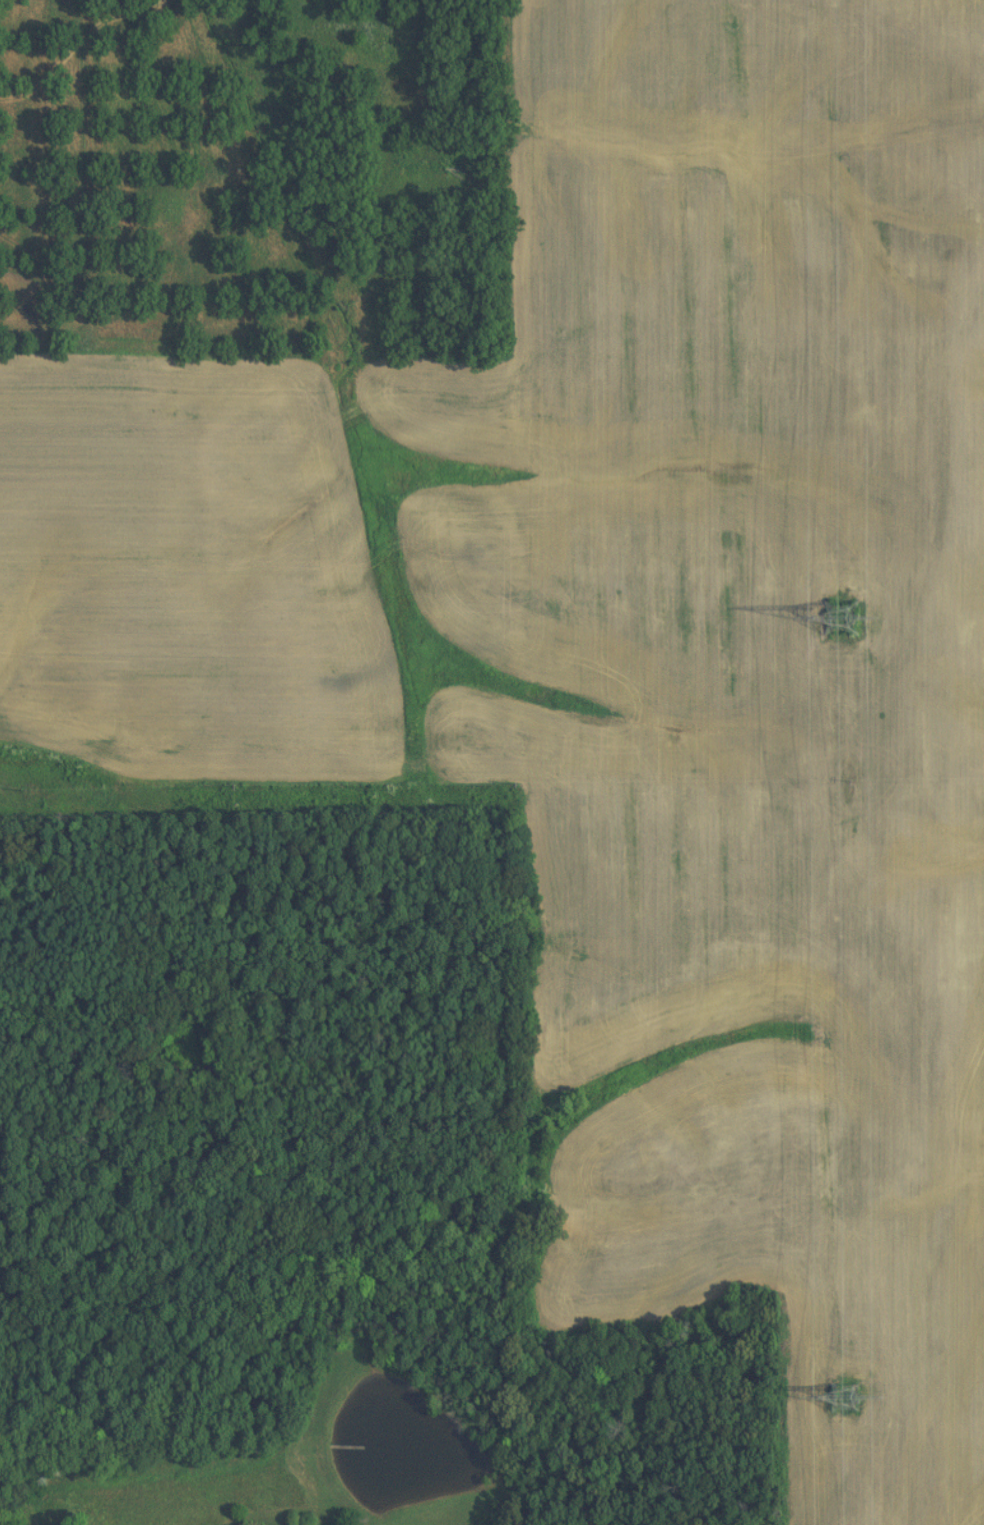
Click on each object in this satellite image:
power tower: (840, 619)
power tower: (841, 1397)

